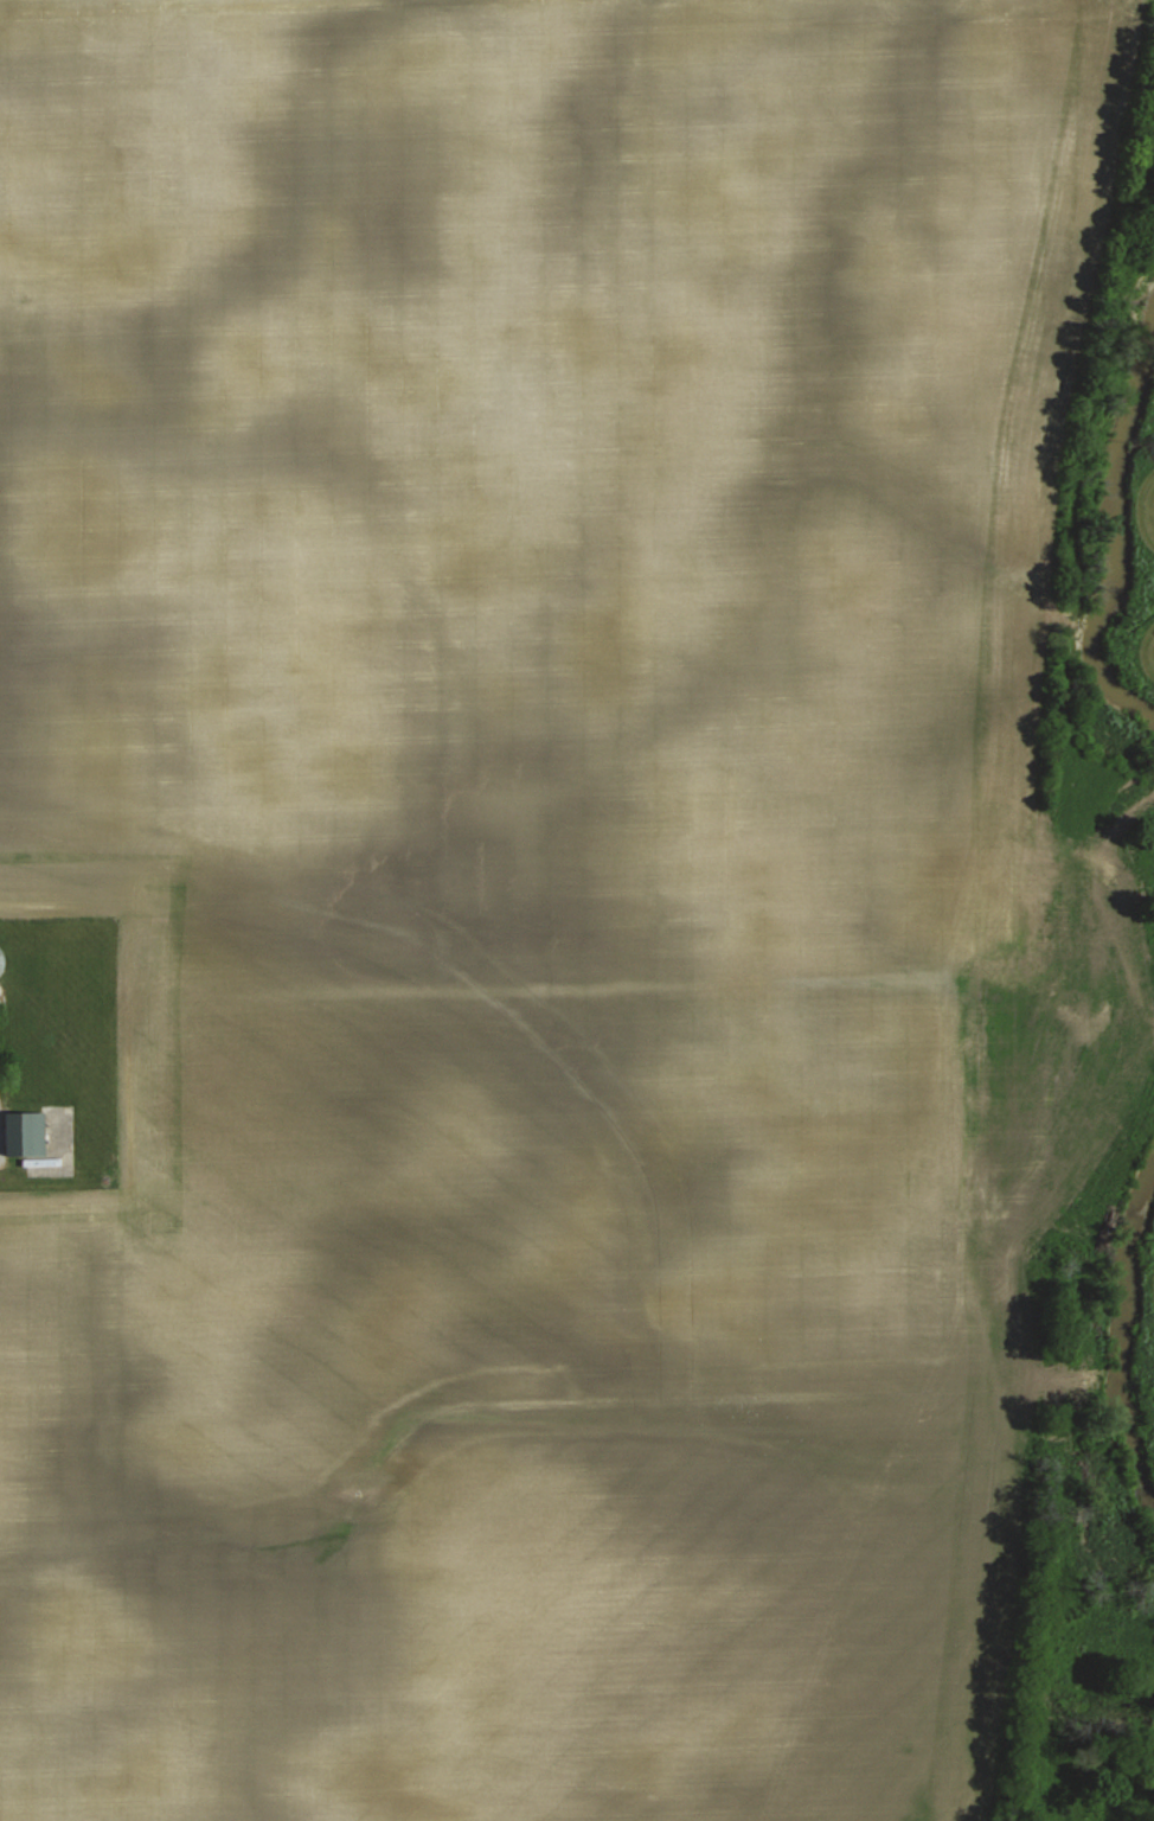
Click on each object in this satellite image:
building: (26, 1133)

